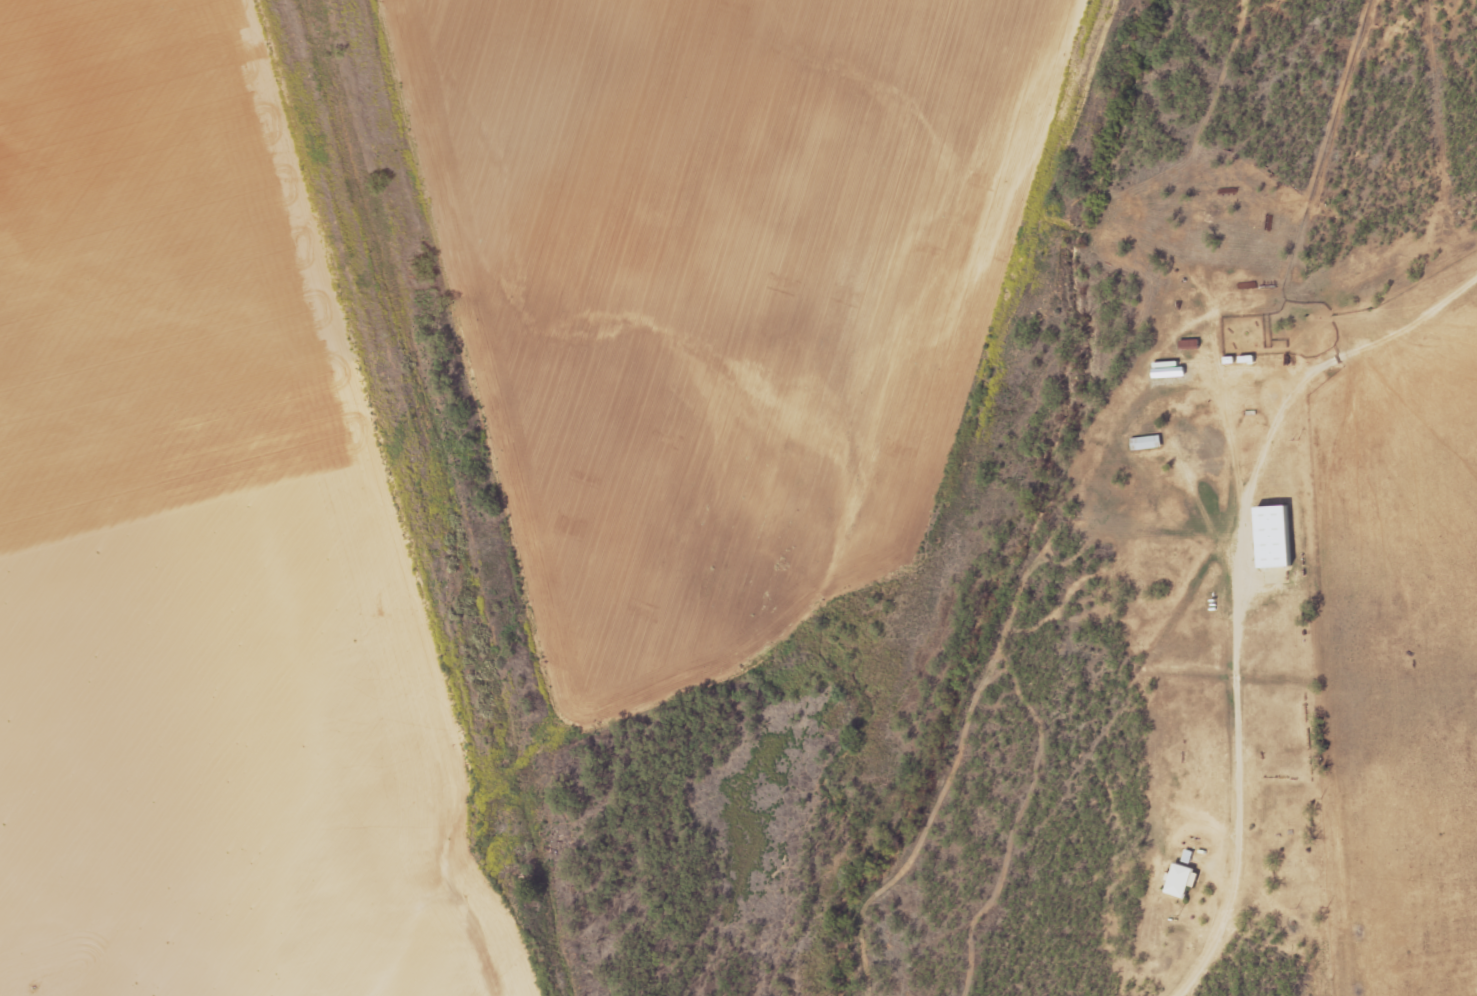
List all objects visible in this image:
road: (1281, 279)
building: (1191, 344)
road: (1325, 365)
building: (1171, 372)
building: (1148, 443)
building: (1277, 536)
road: (1228, 765)
building: (1183, 879)
road: (402, 979)

